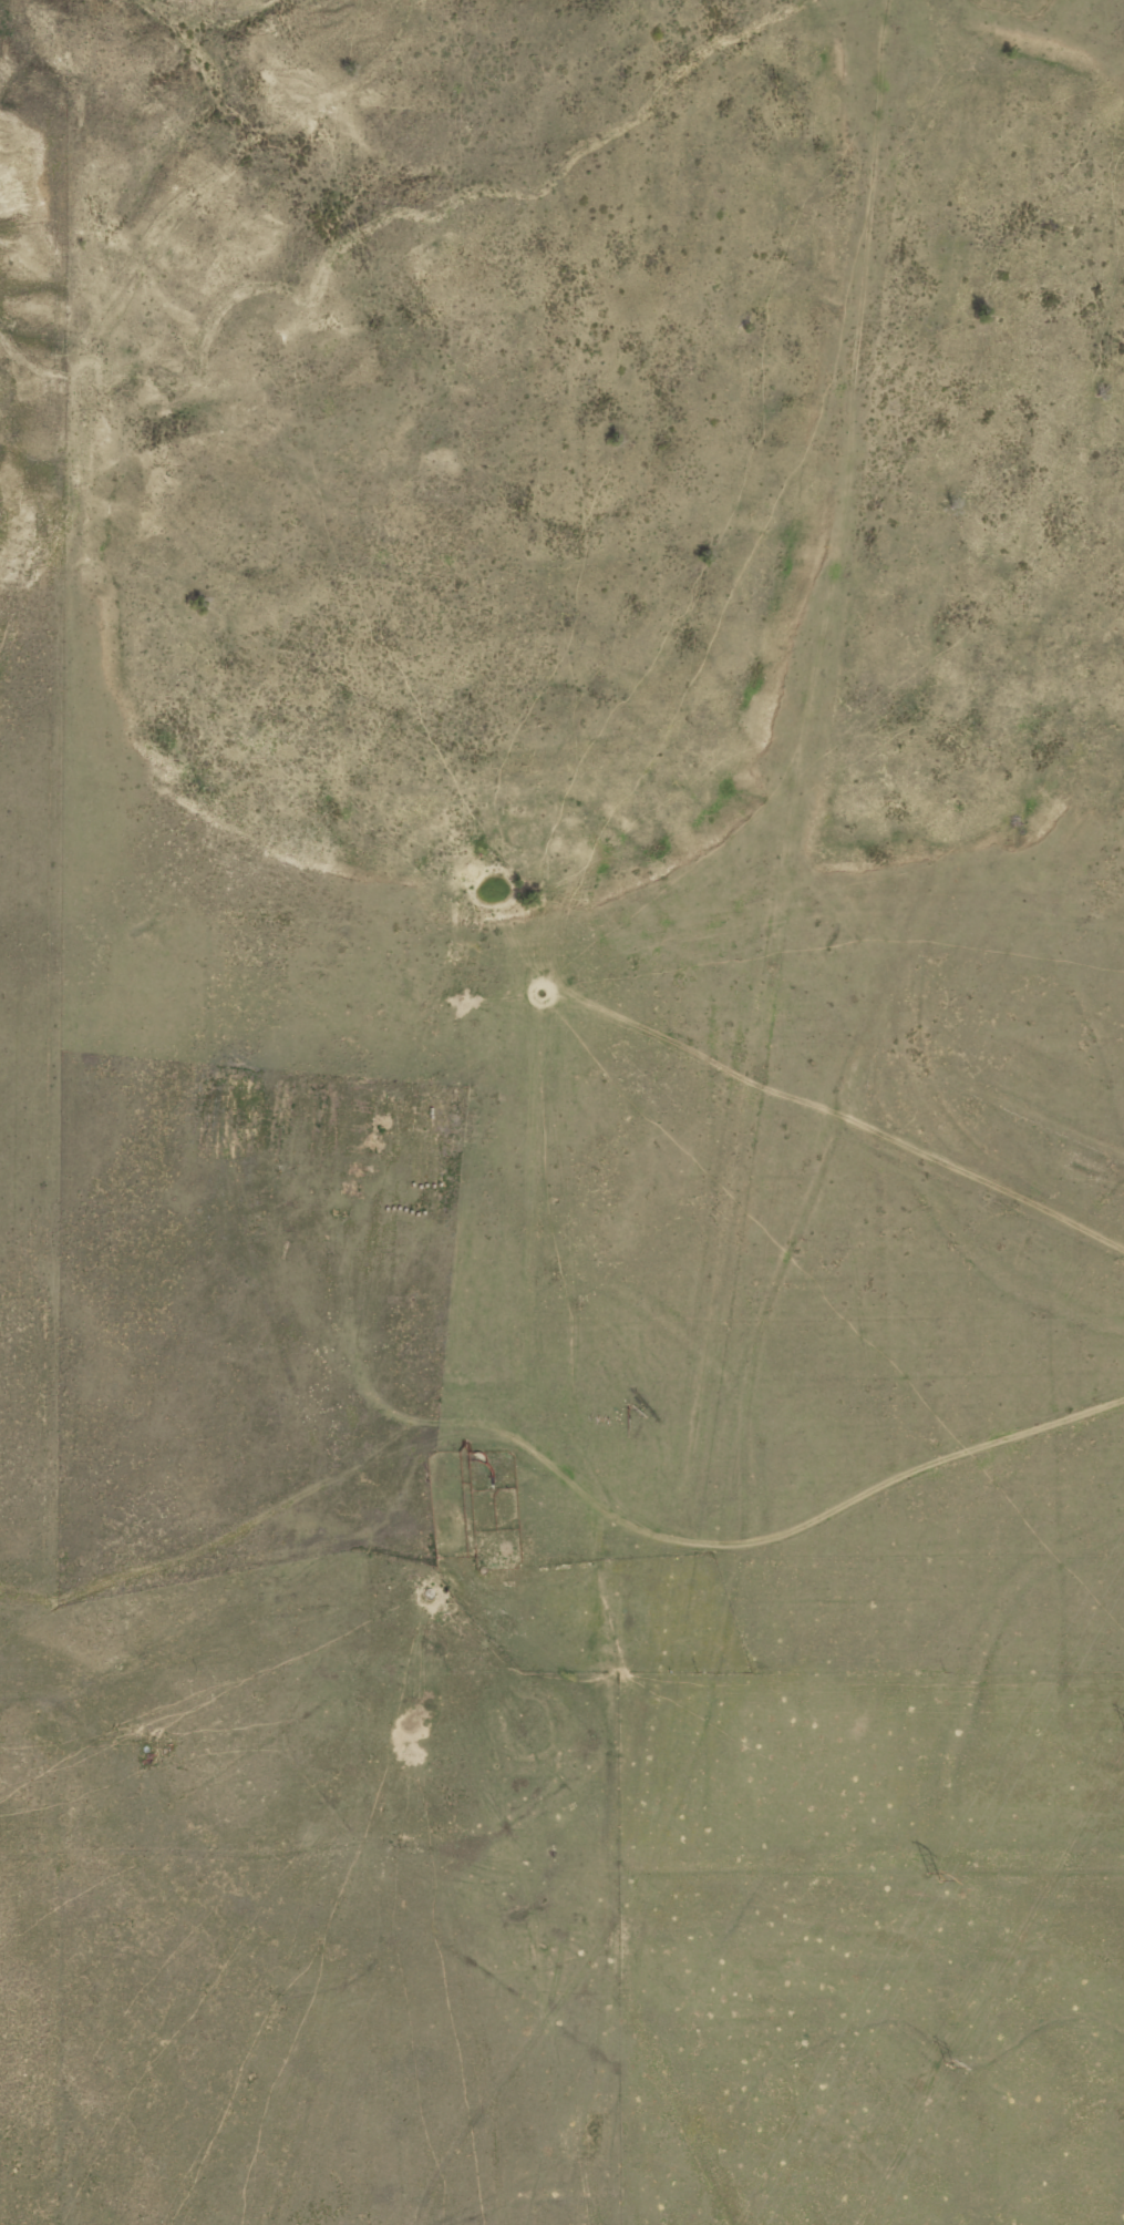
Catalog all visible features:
road: (858, 978)
road: (967, 1217)
road: (558, 1391)
road: (553, 1685)
power tower: (1115, 1734)
road: (834, 1860)
power tower: (929, 1876)
road: (478, 2049)
power tower: (936, 2067)
road: (609, 2102)

